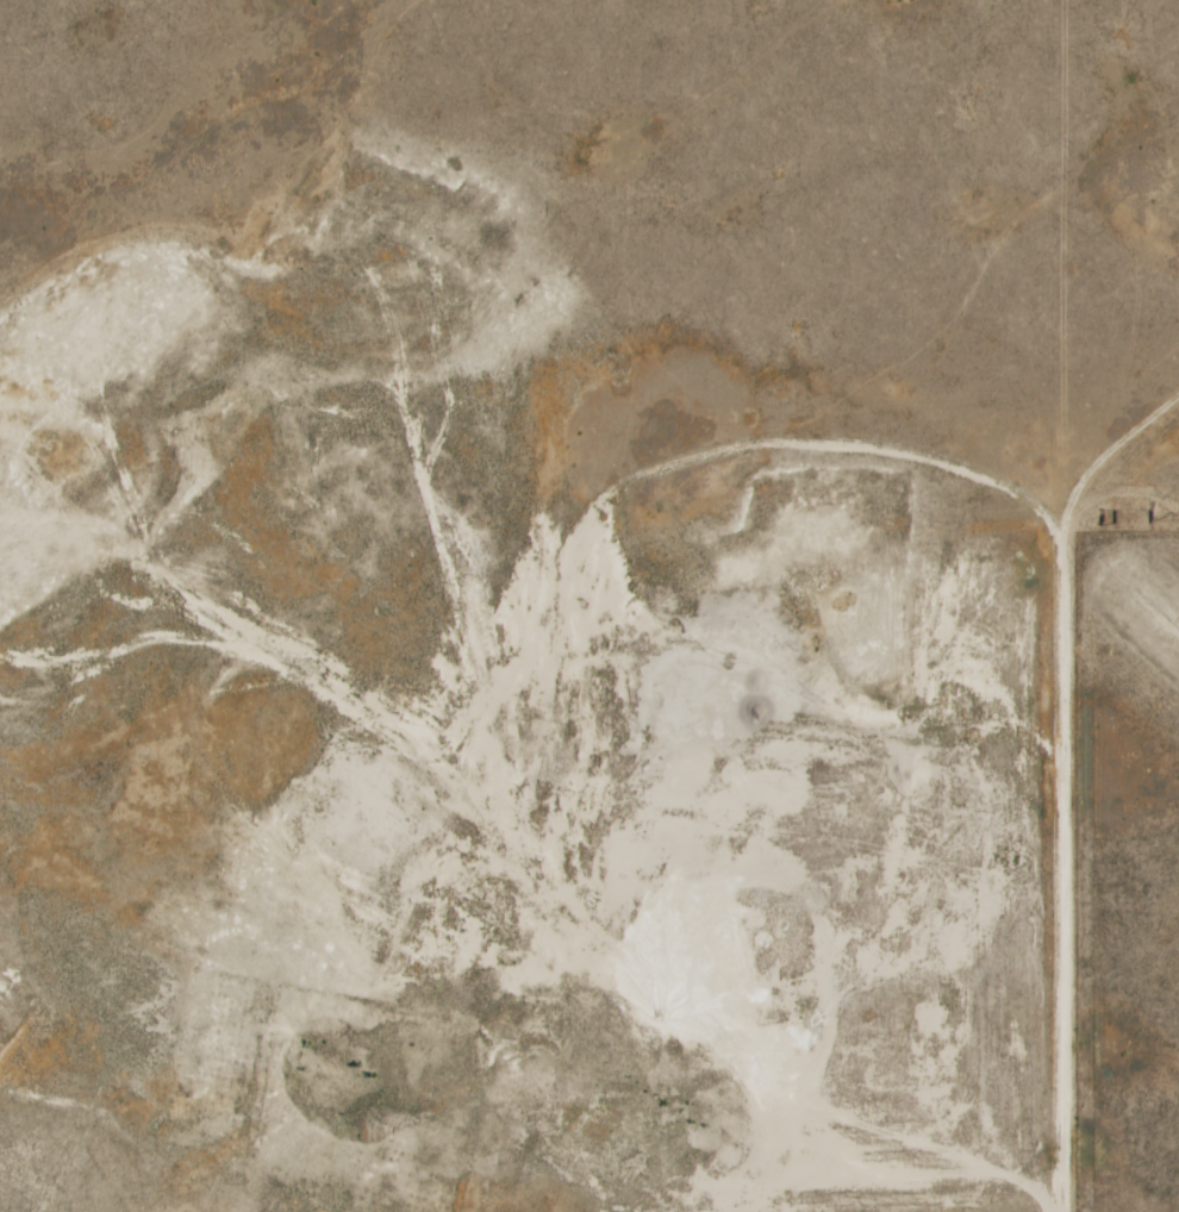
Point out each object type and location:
road: (1042, 769)

